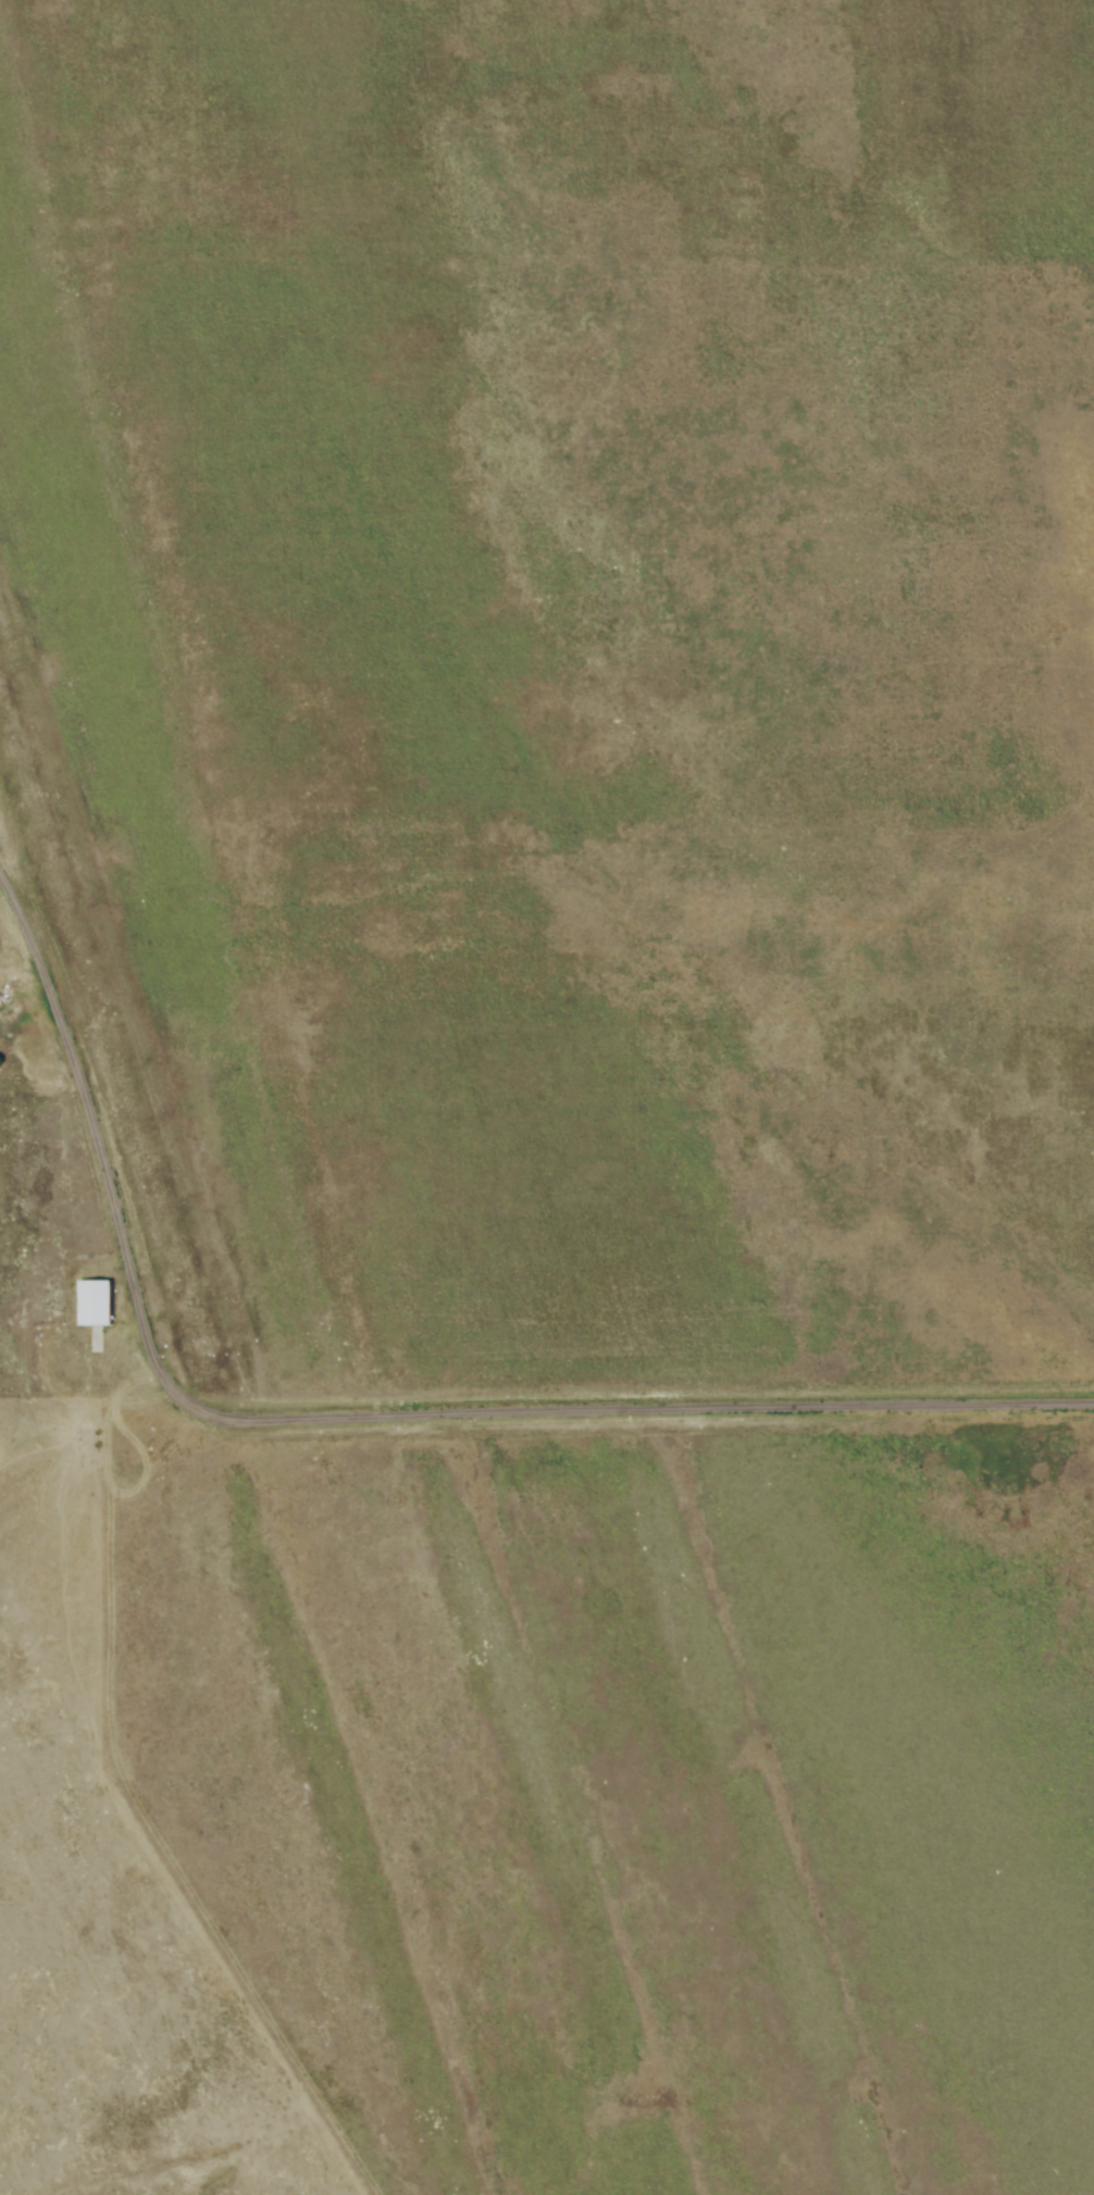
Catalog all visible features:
airport runway: (109, 1030)
building: (95, 1302)
road: (570, 1400)

